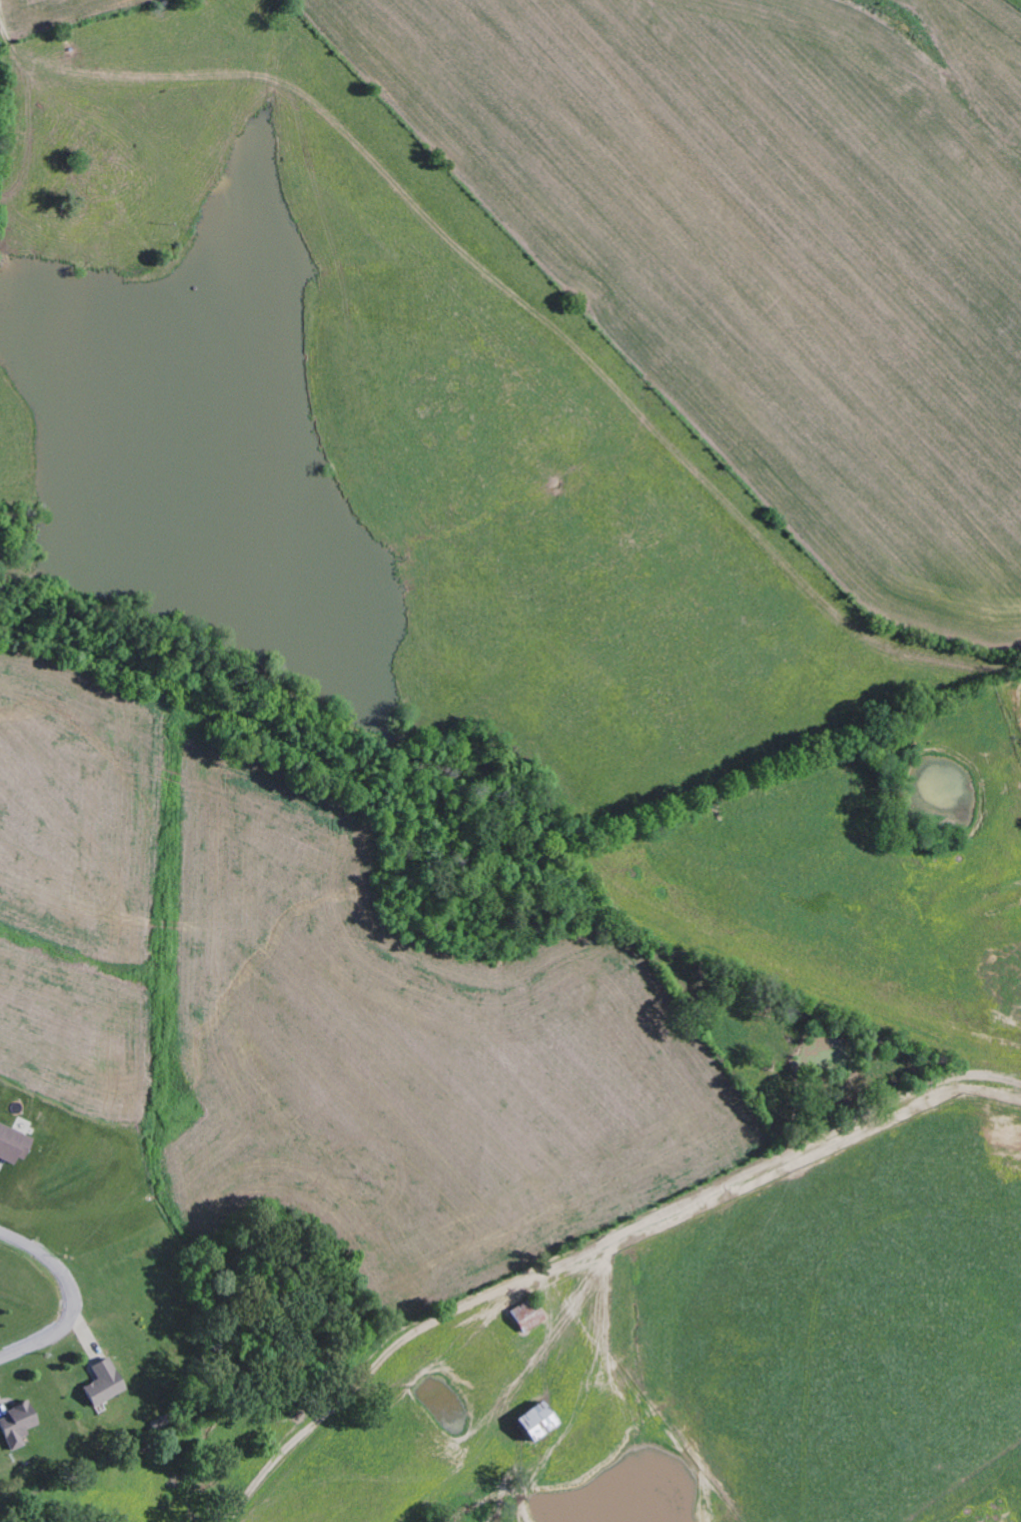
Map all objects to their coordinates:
road: (802, 1109)
building: (11, 1145)
road: (66, 1299)
road: (354, 1333)
building: (98, 1383)
building: (527, 1422)
building: (14, 1425)

